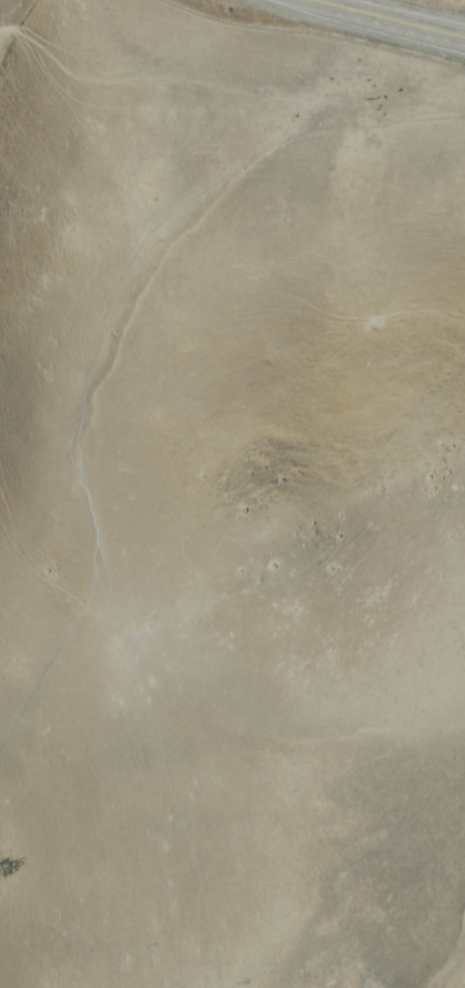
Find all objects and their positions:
road: (432, 7)

